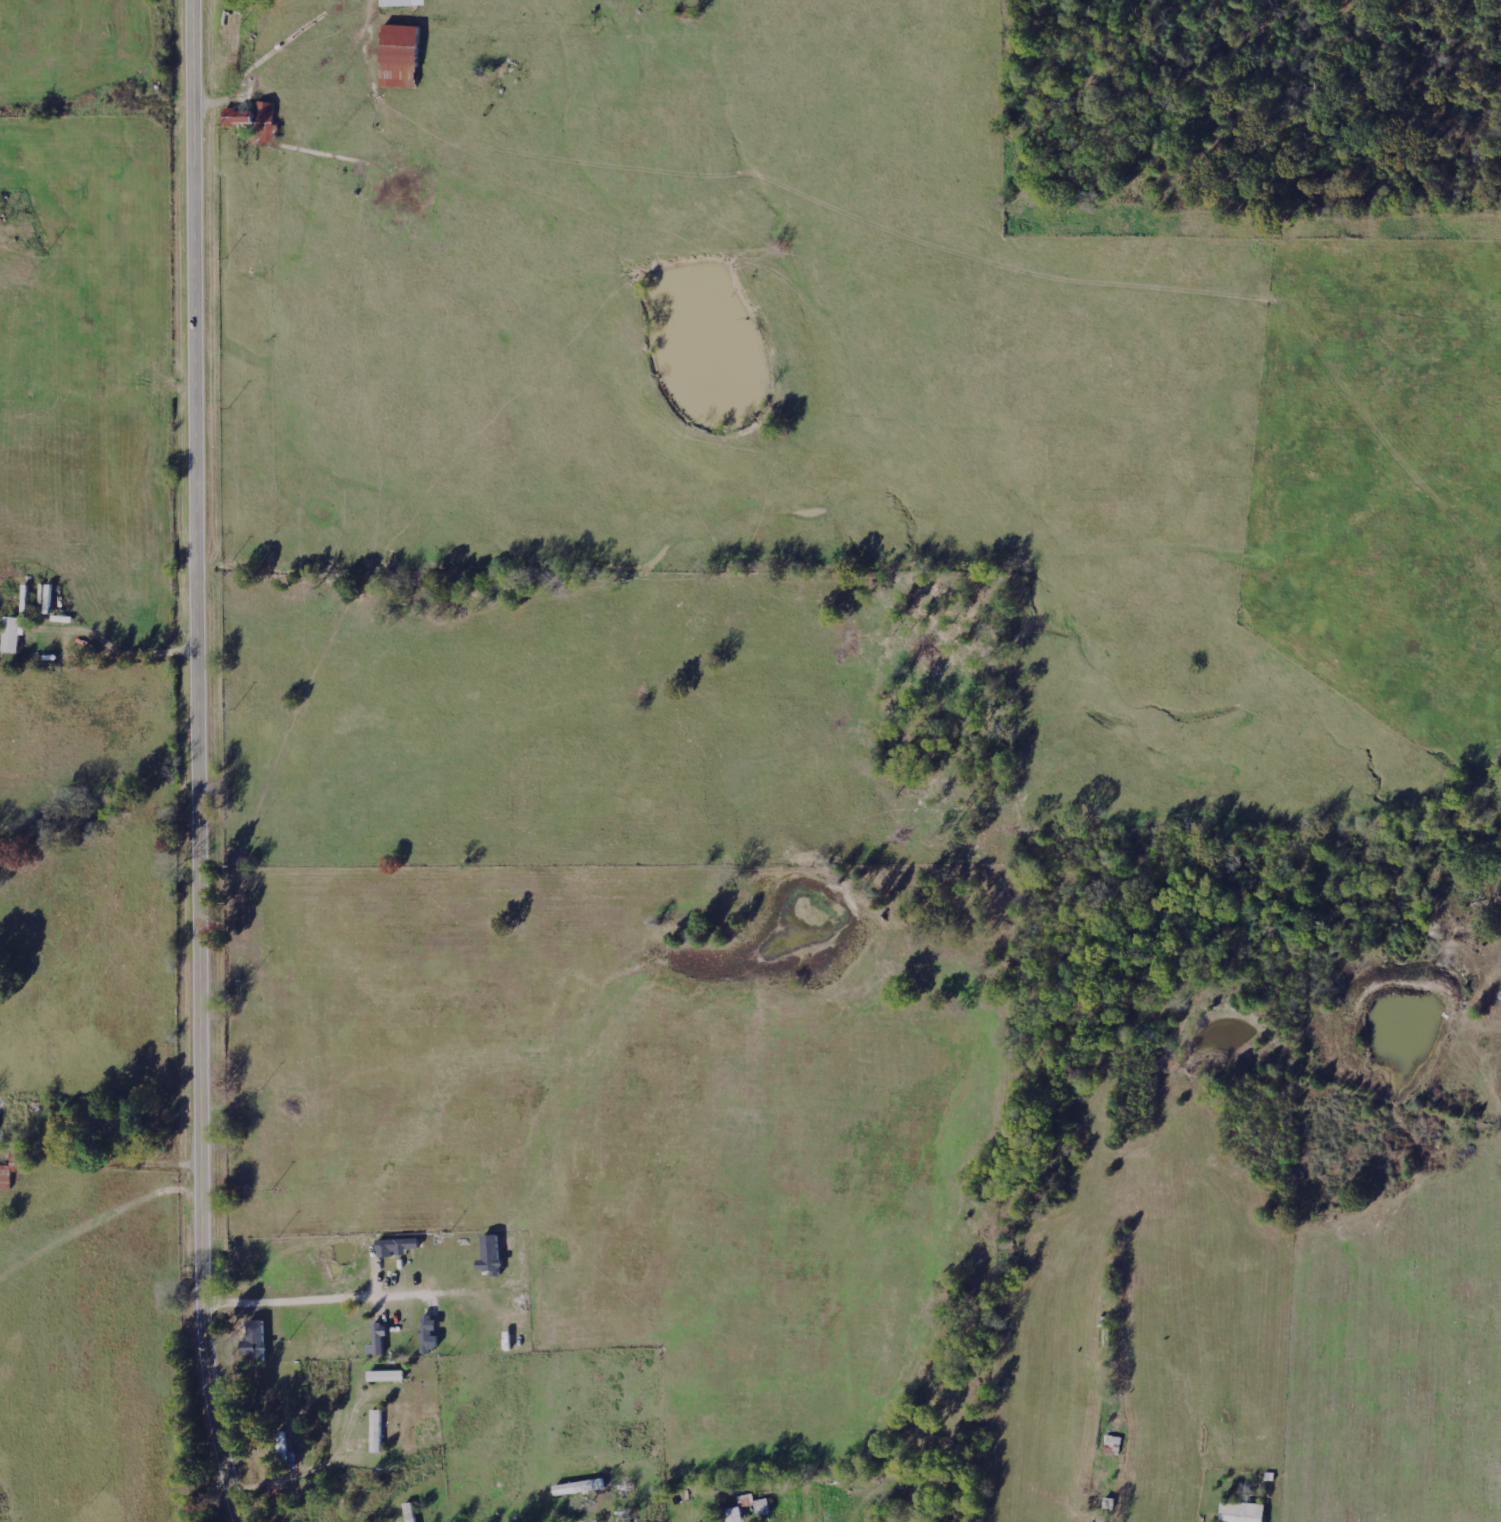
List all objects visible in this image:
building: (406, 3)
building: (403, 56)
building: (255, 115)
building: (271, 133)
building: (14, 634)
road: (201, 762)
road: (103, 1076)
building: (0, 1117)
building: (12, 1169)
building: (494, 1255)
road: (348, 1298)
building: (259, 1339)
building: (381, 1340)
building: (389, 1376)
building: (748, 1500)
building: (764, 1506)
building: (1245, 1512)
building: (737, 1515)

